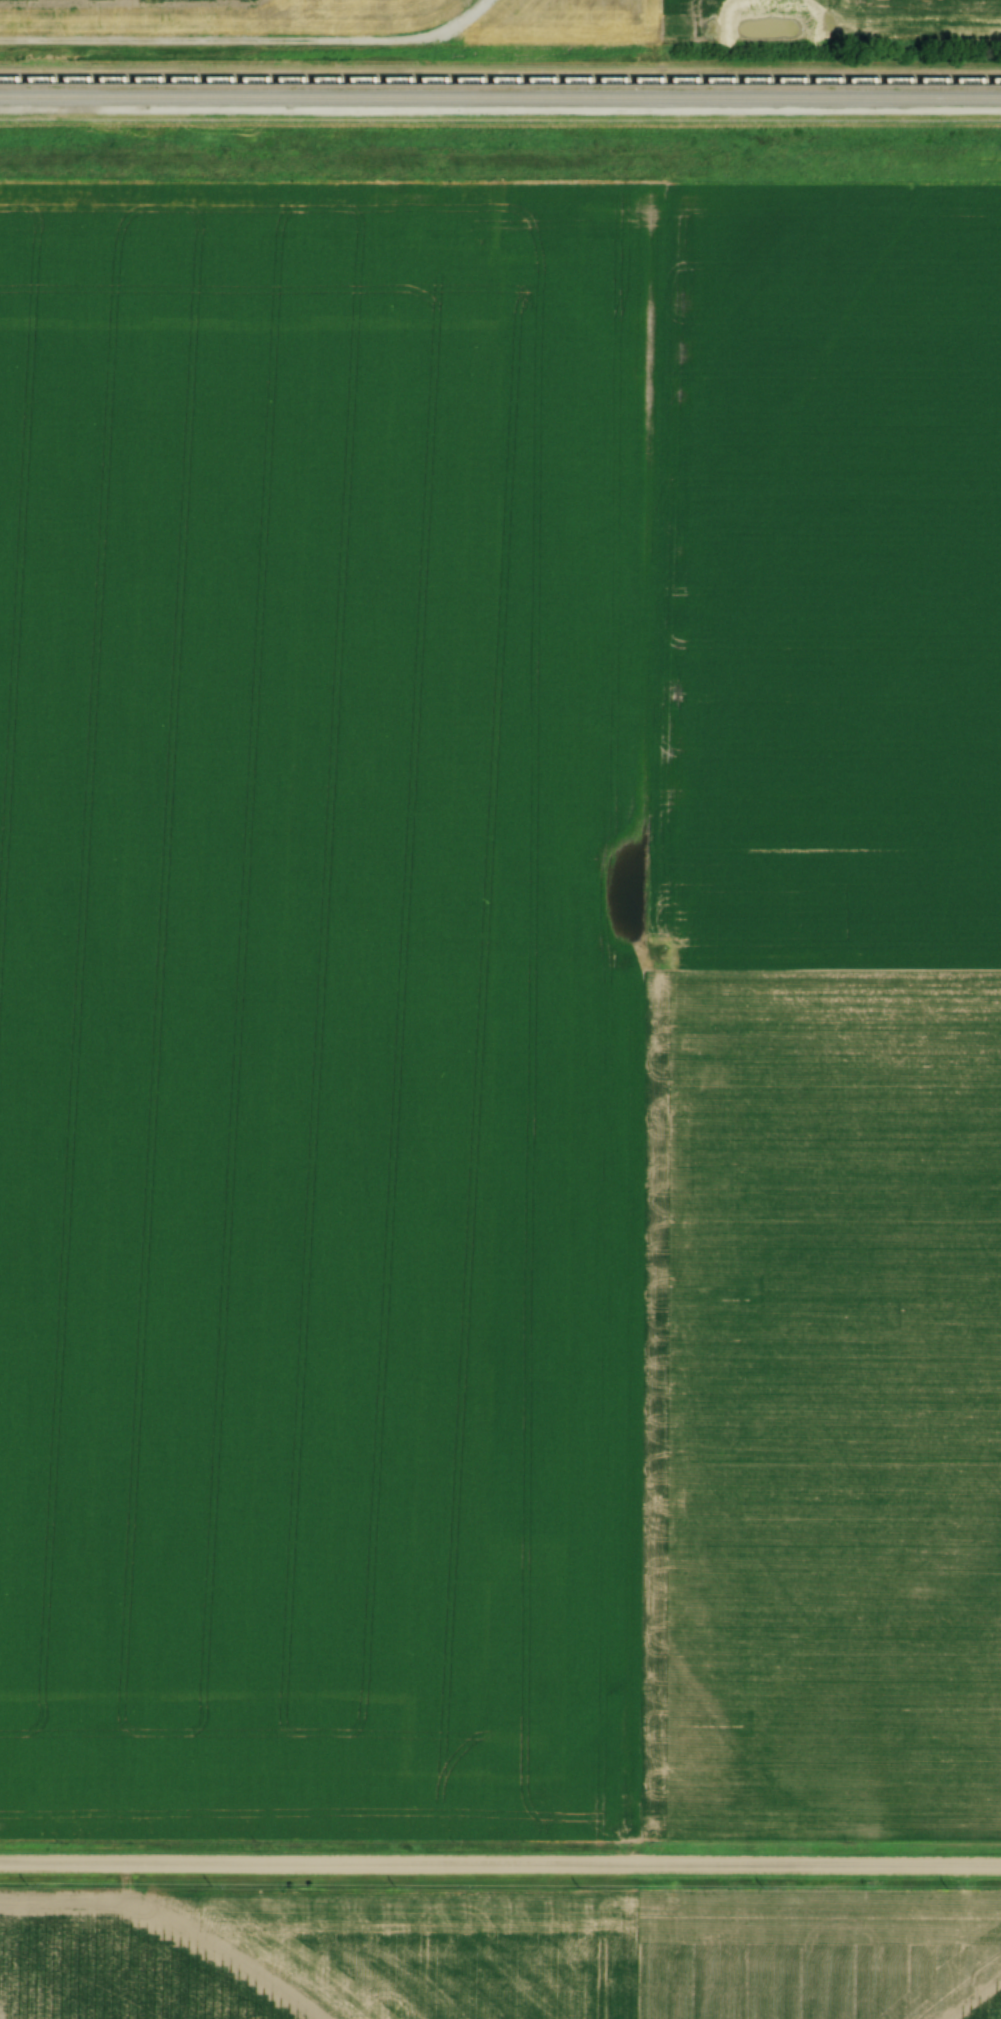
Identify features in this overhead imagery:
railway: (500, 76)
railway: (500, 97)
road: (500, 1869)

